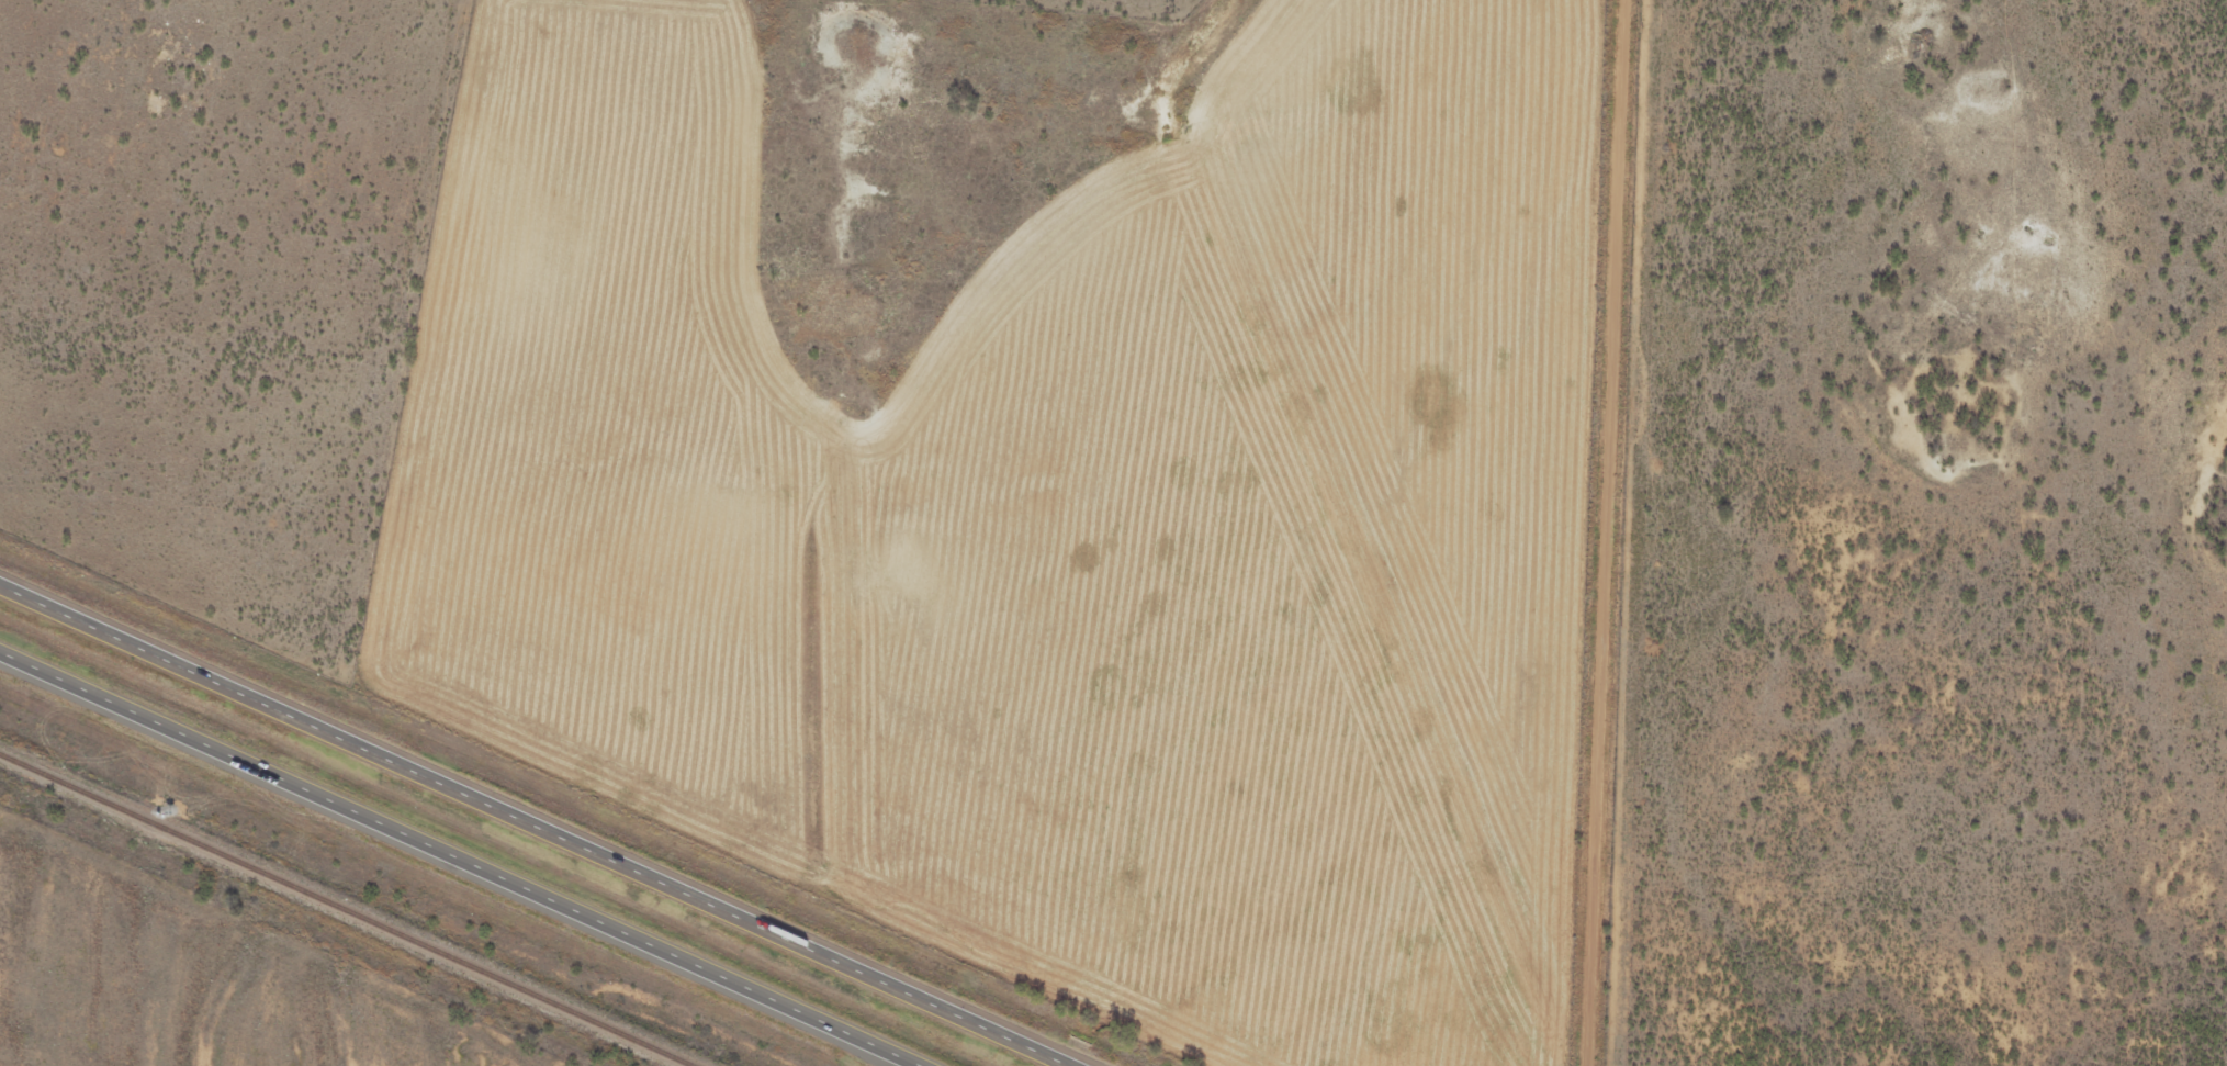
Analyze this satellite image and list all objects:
road: (1606, 532)
road: (539, 822)
road: (451, 862)
railway: (345, 910)

